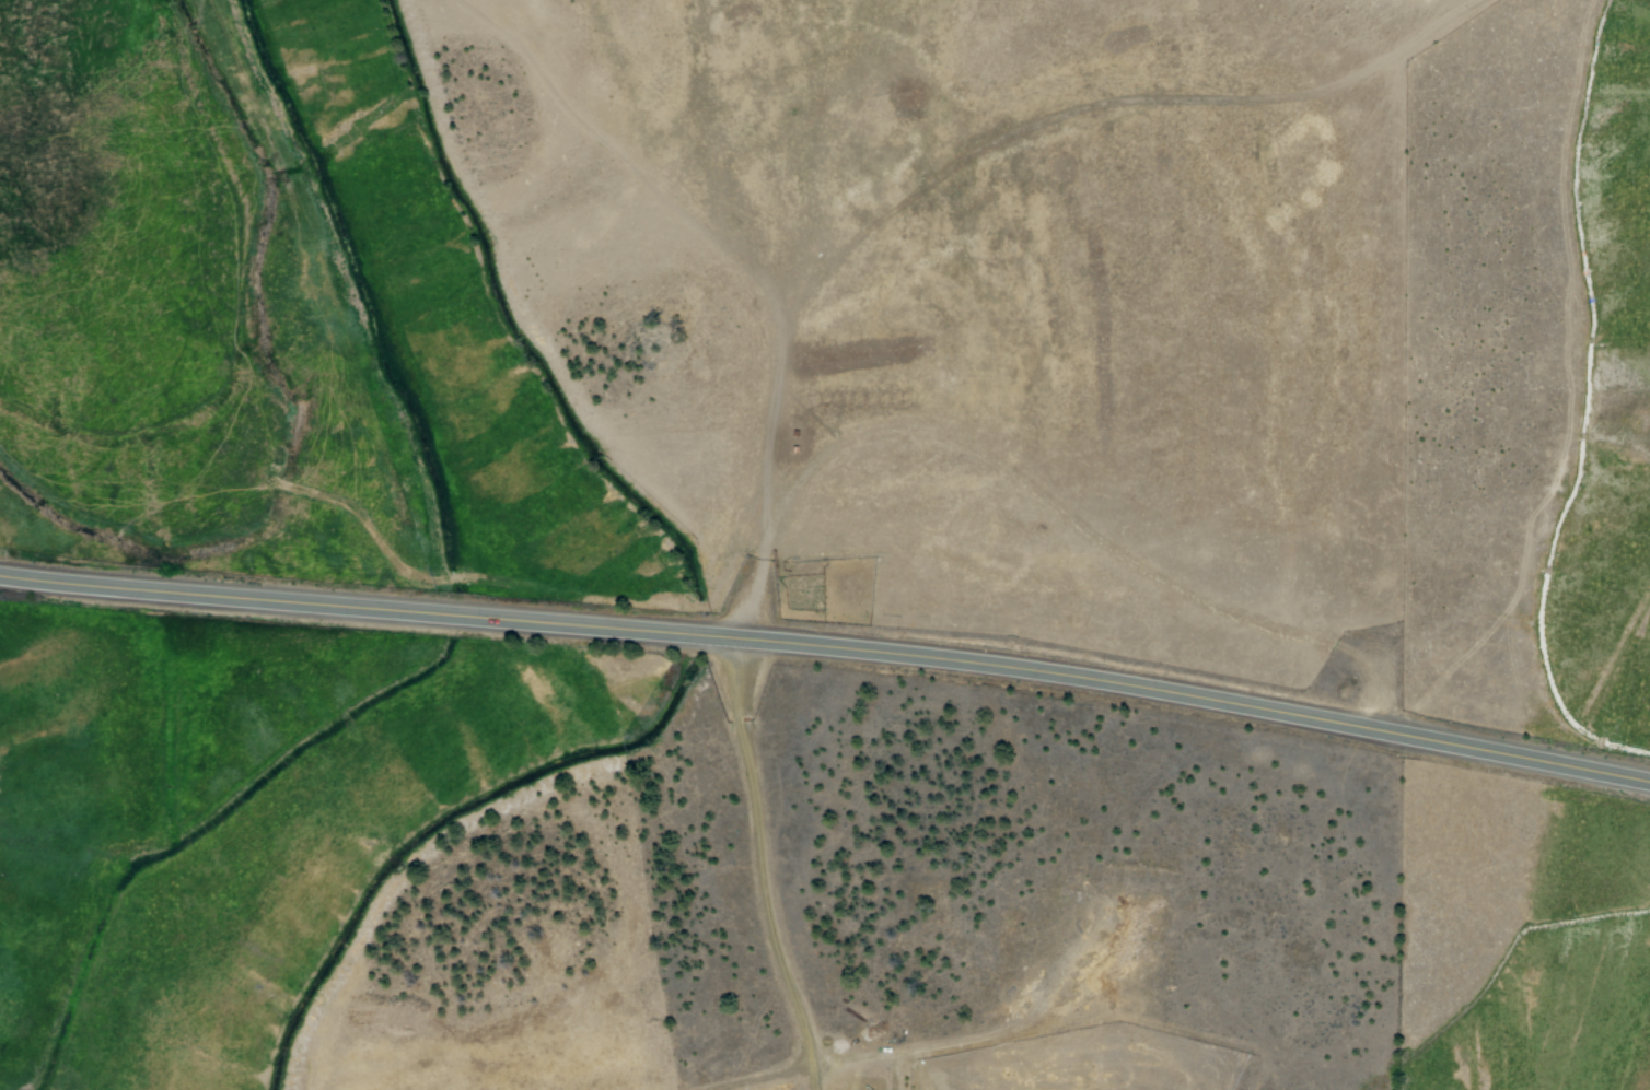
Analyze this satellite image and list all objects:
road: (829, 640)
road: (762, 864)

